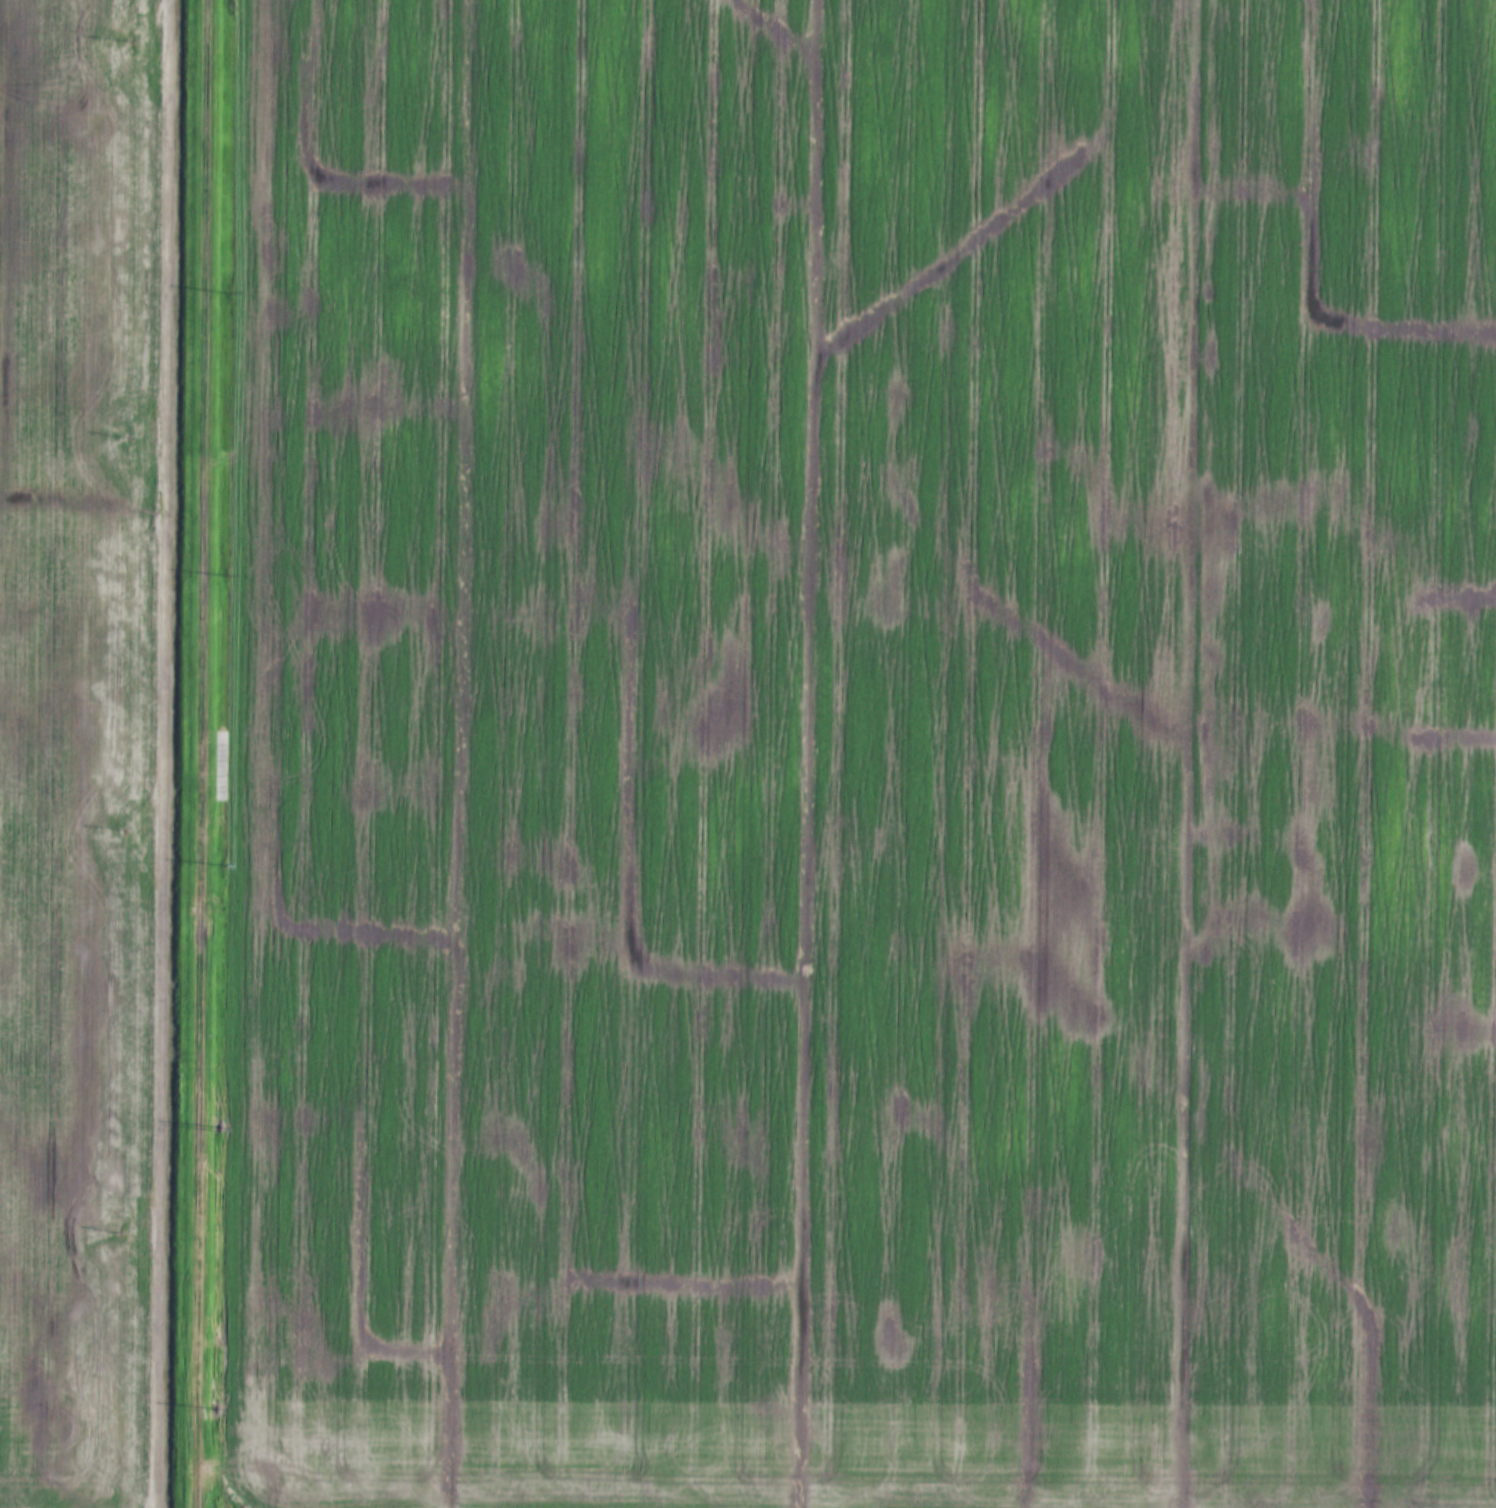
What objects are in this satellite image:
road: (205, 754)

